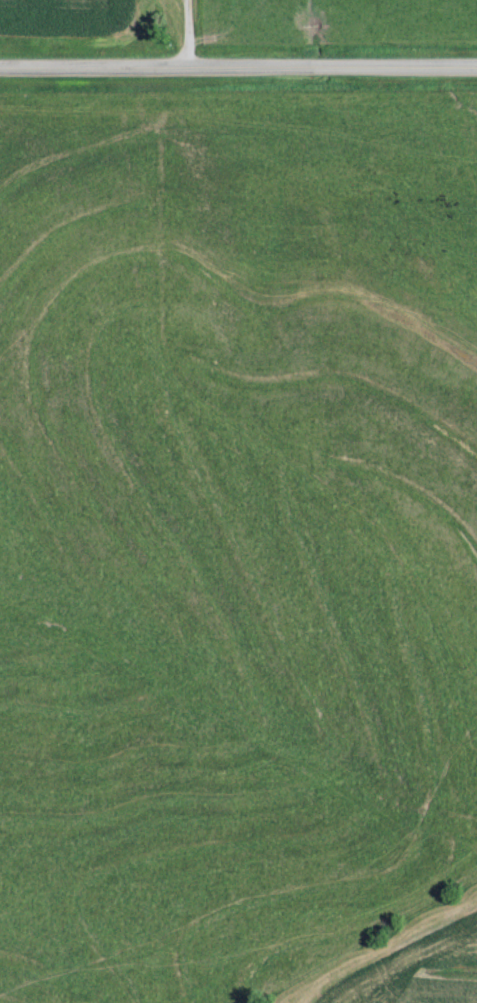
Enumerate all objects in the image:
road: (238, 64)

